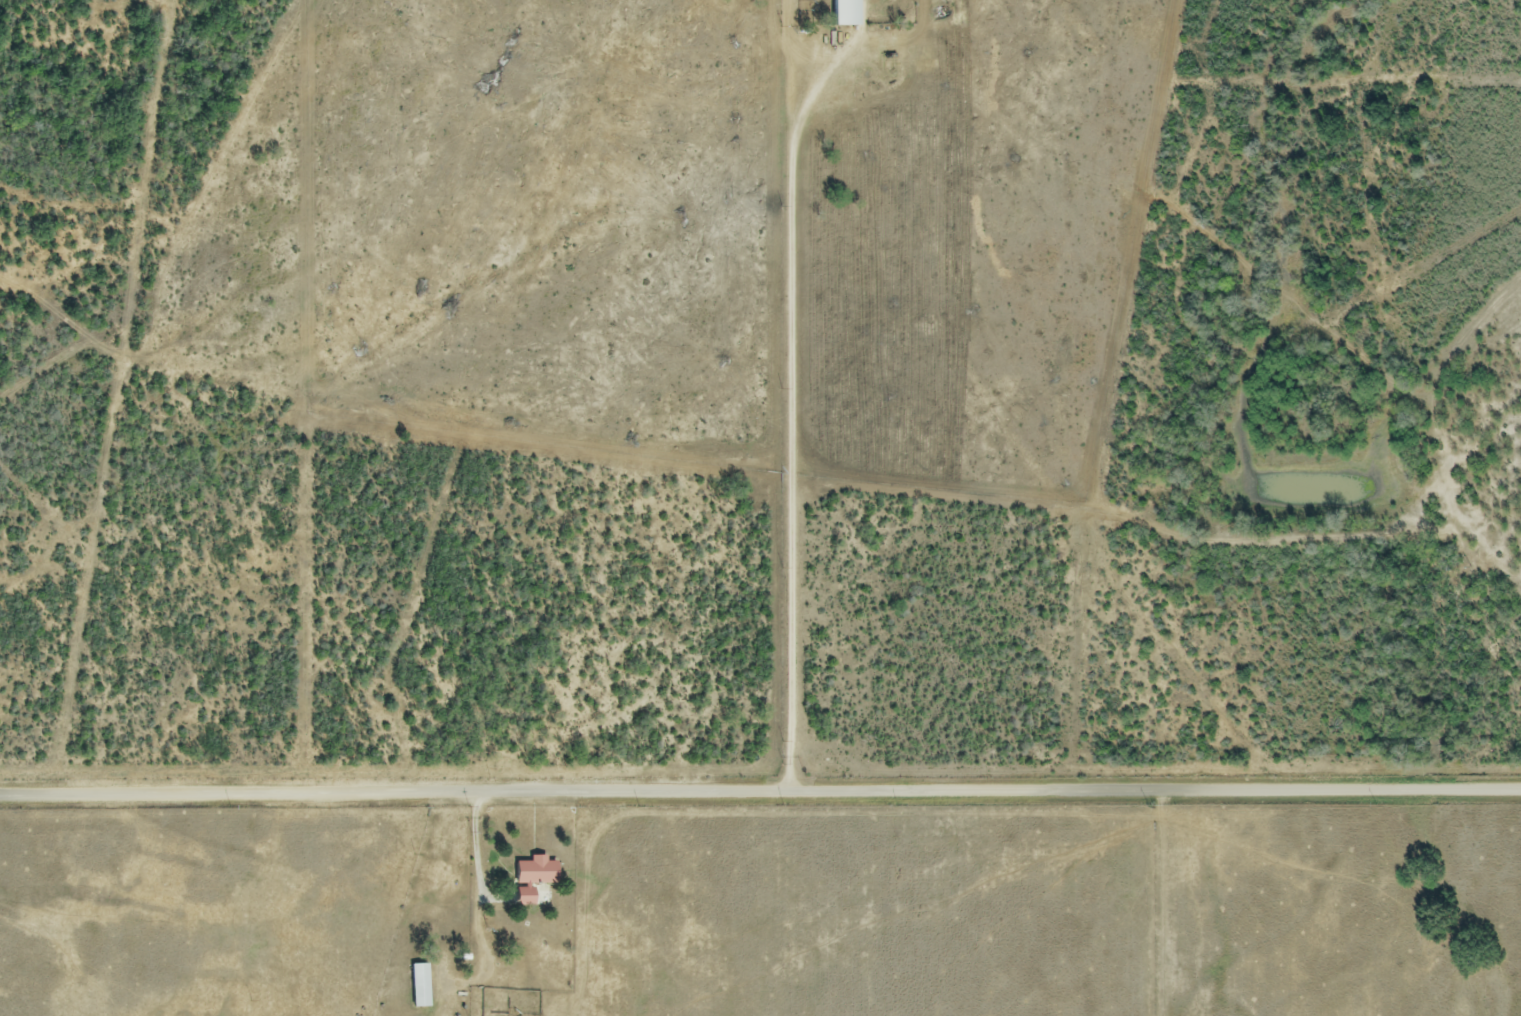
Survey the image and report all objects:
building: (848, 12)
road: (788, 407)
road: (760, 791)
road: (476, 842)
building: (536, 878)
building: (421, 987)

